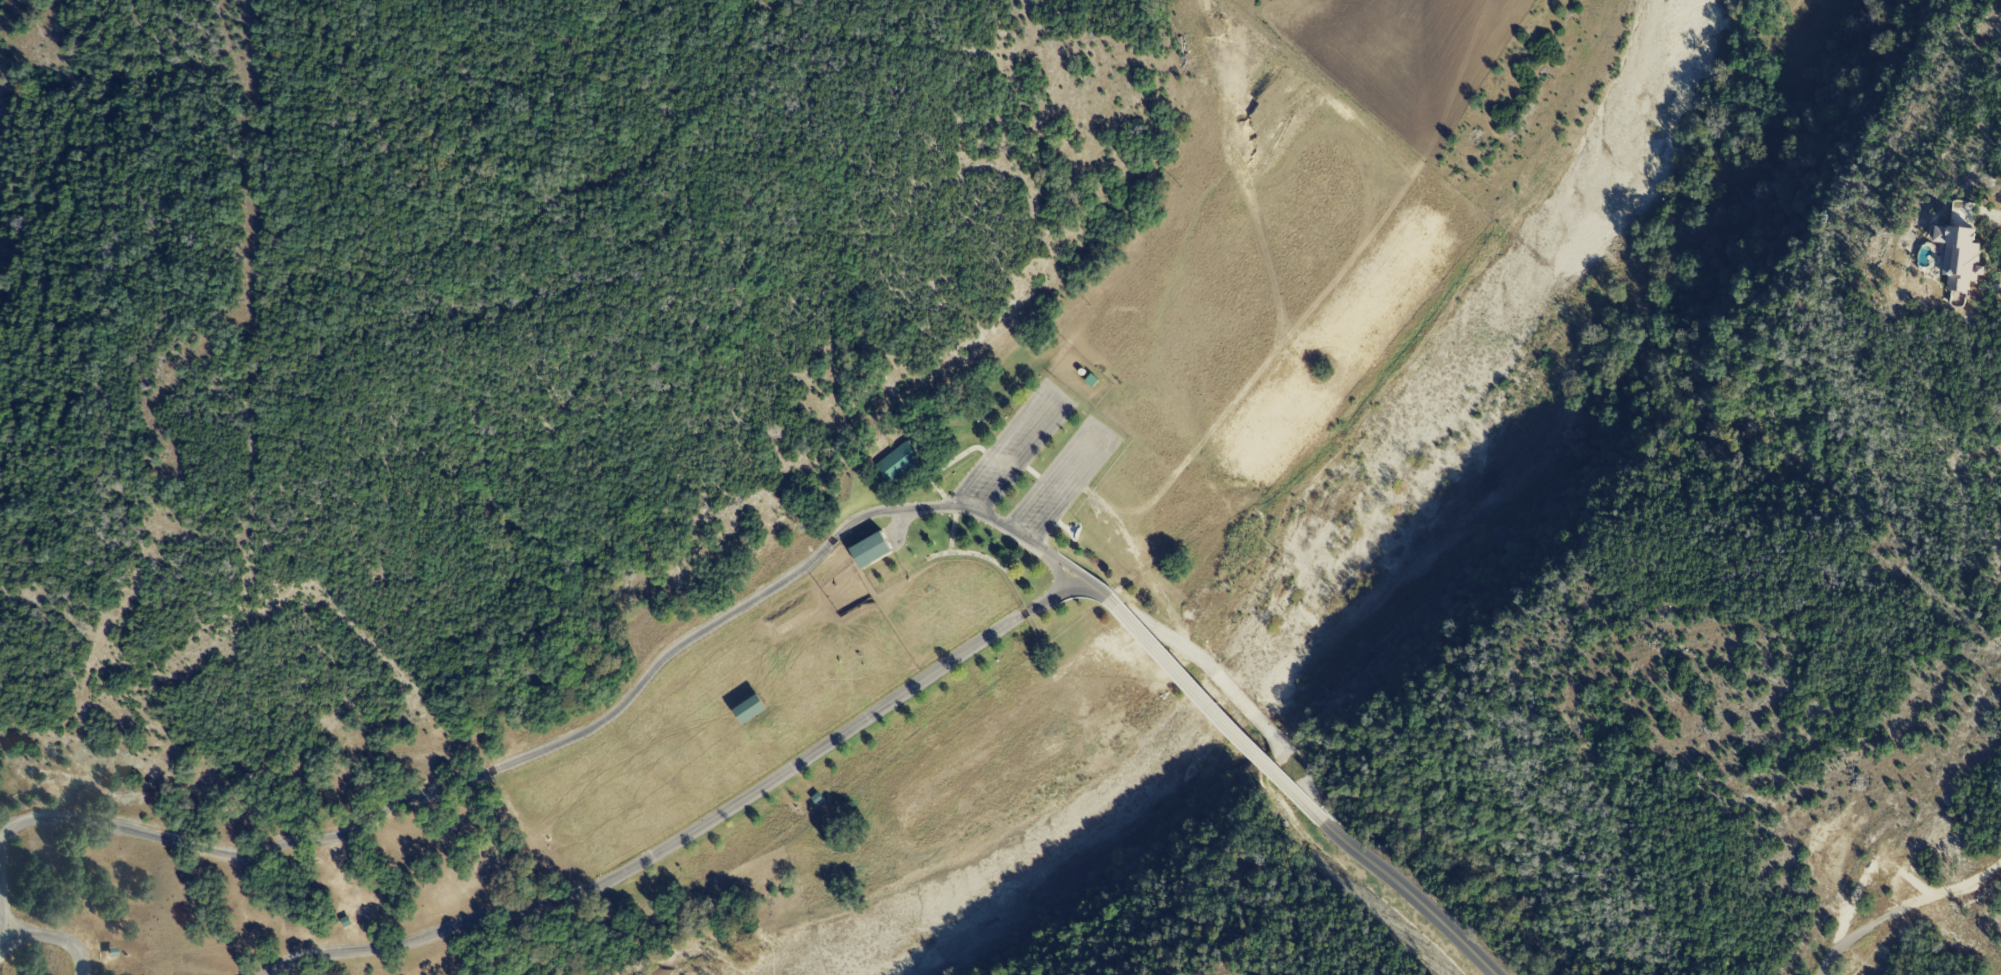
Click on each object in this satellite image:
road: (1991, 215)
building: (1957, 255)
river: (1559, 274)
building: (904, 463)
parking lot: (1040, 465)
road: (967, 512)
building: (871, 549)
road: (1066, 583)
road: (1134, 613)
road: (1239, 702)
building: (750, 708)
road: (1884, 860)
road: (1396, 883)
road: (0, 905)
road: (17, 929)
road: (49, 938)

